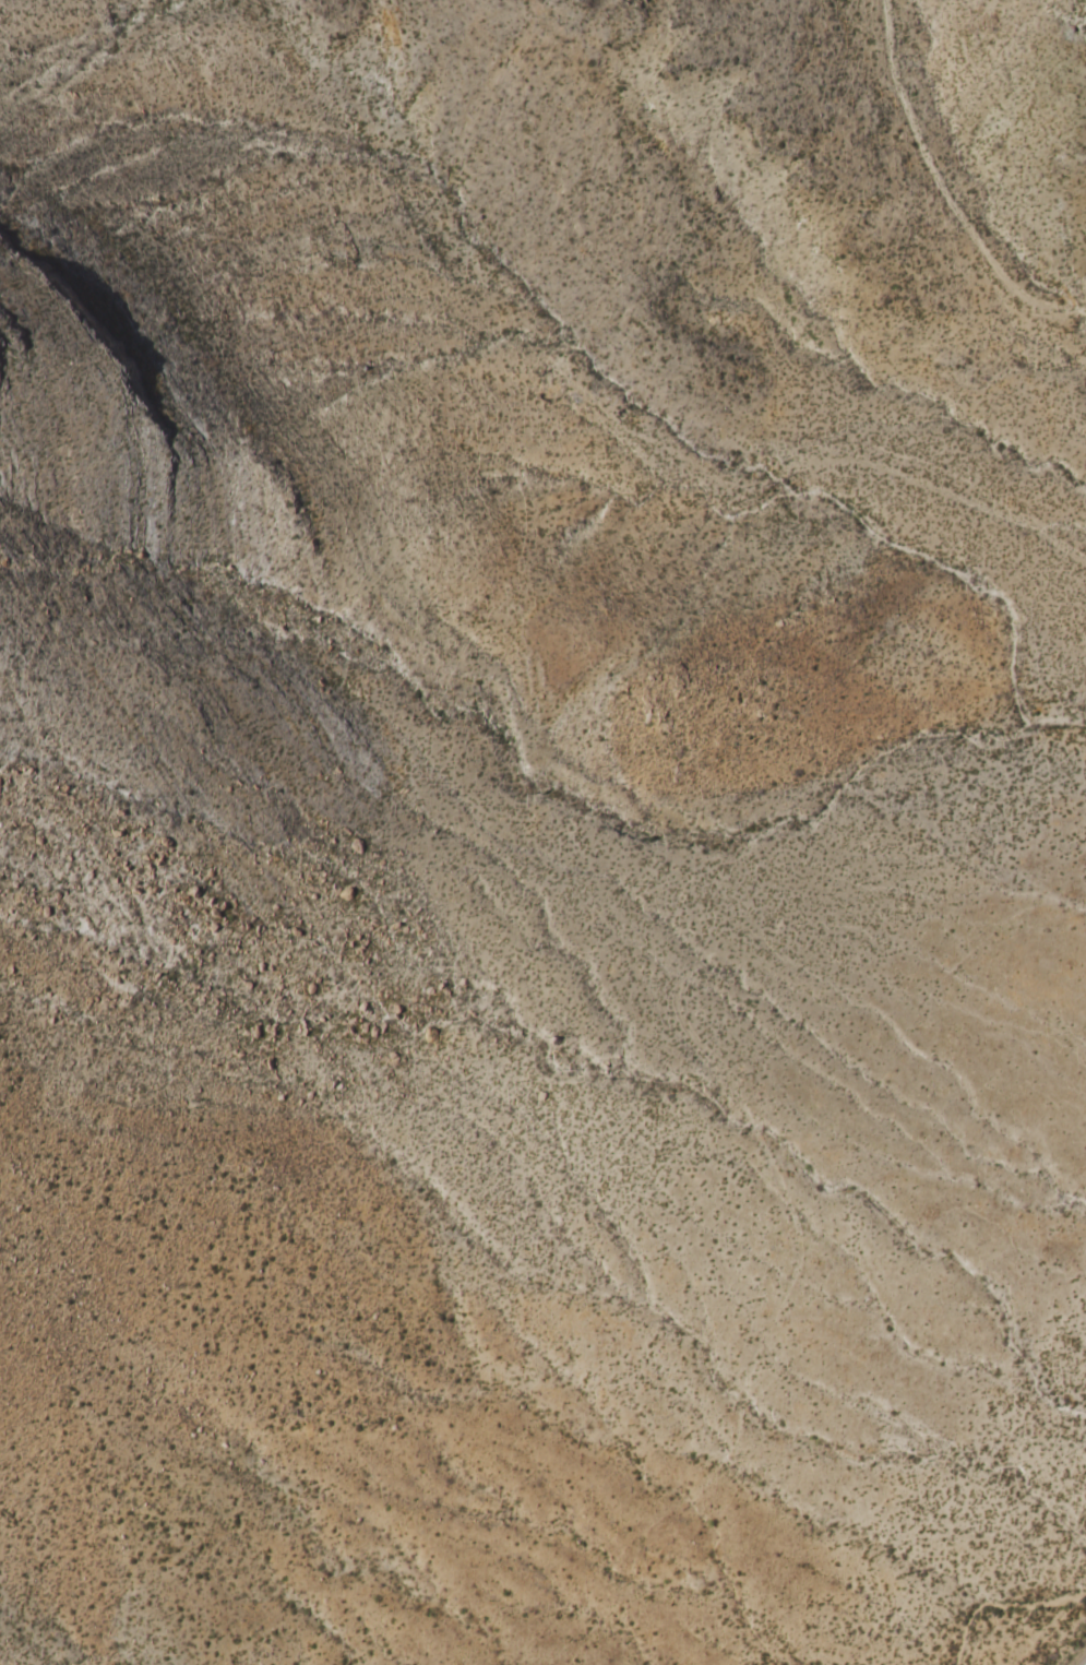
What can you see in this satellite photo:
road: (942, 188)
road: (820, 461)

